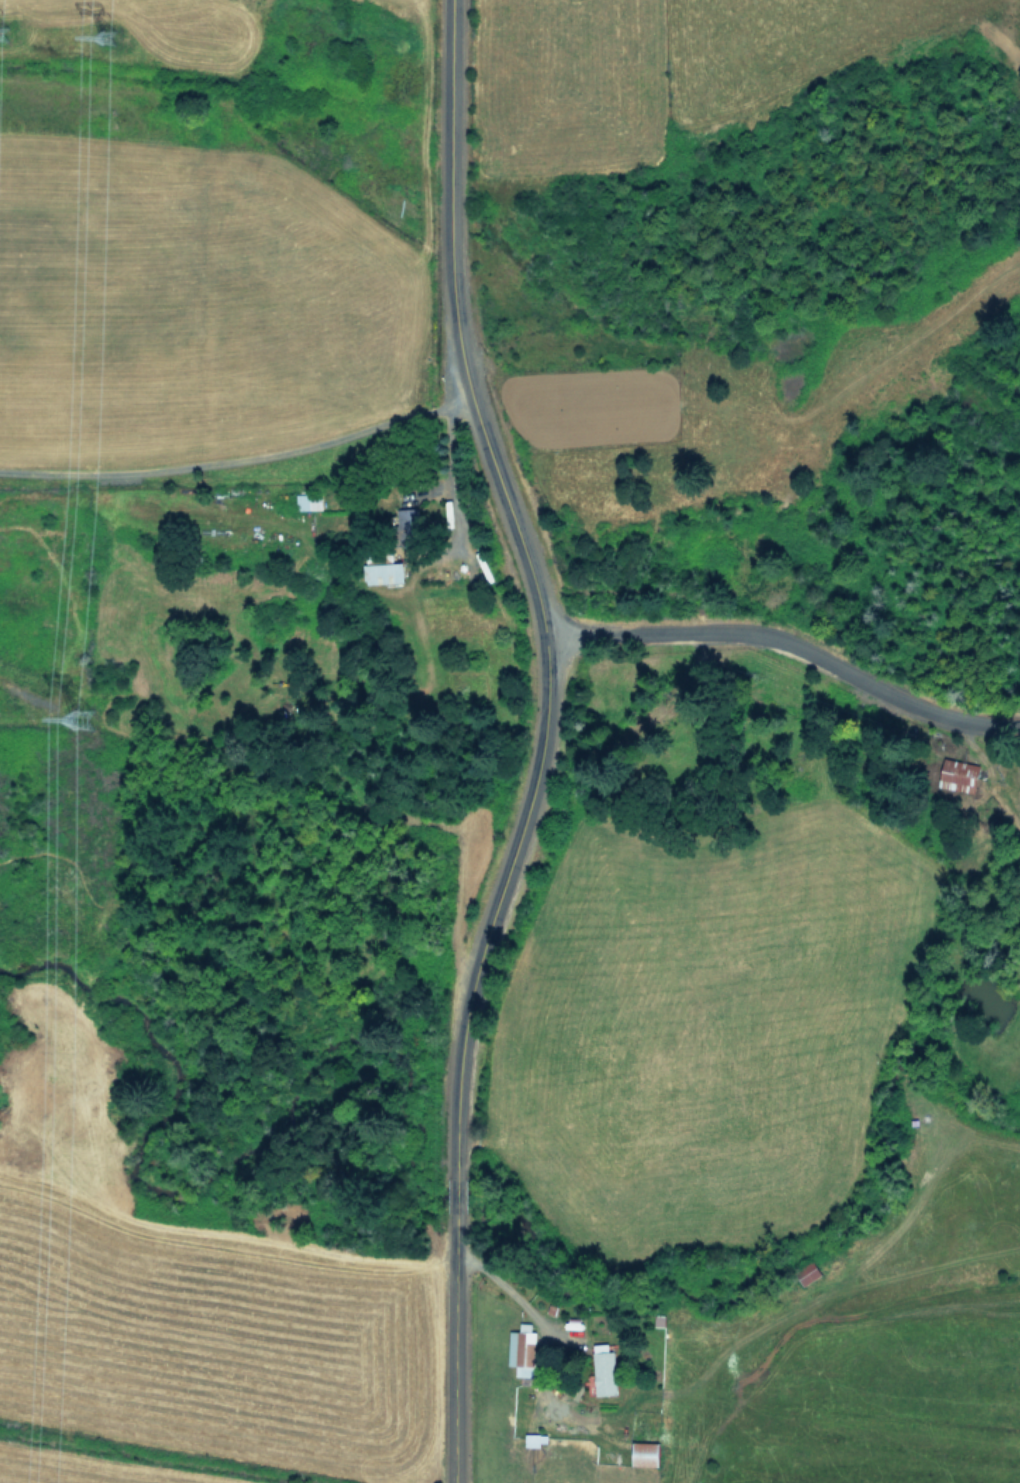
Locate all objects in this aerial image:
power tower: (6, 45)
power tower: (117, 53)
road: (463, 316)
road: (243, 460)
building: (309, 501)
building: (411, 520)
building: (386, 572)
road: (794, 649)
power tower: (94, 717)
building: (959, 772)
road: (466, 1044)
crop: (199, 1346)
building: (522, 1349)
crop: (757, 1364)
building: (605, 1369)
building: (535, 1438)
building: (645, 1452)

